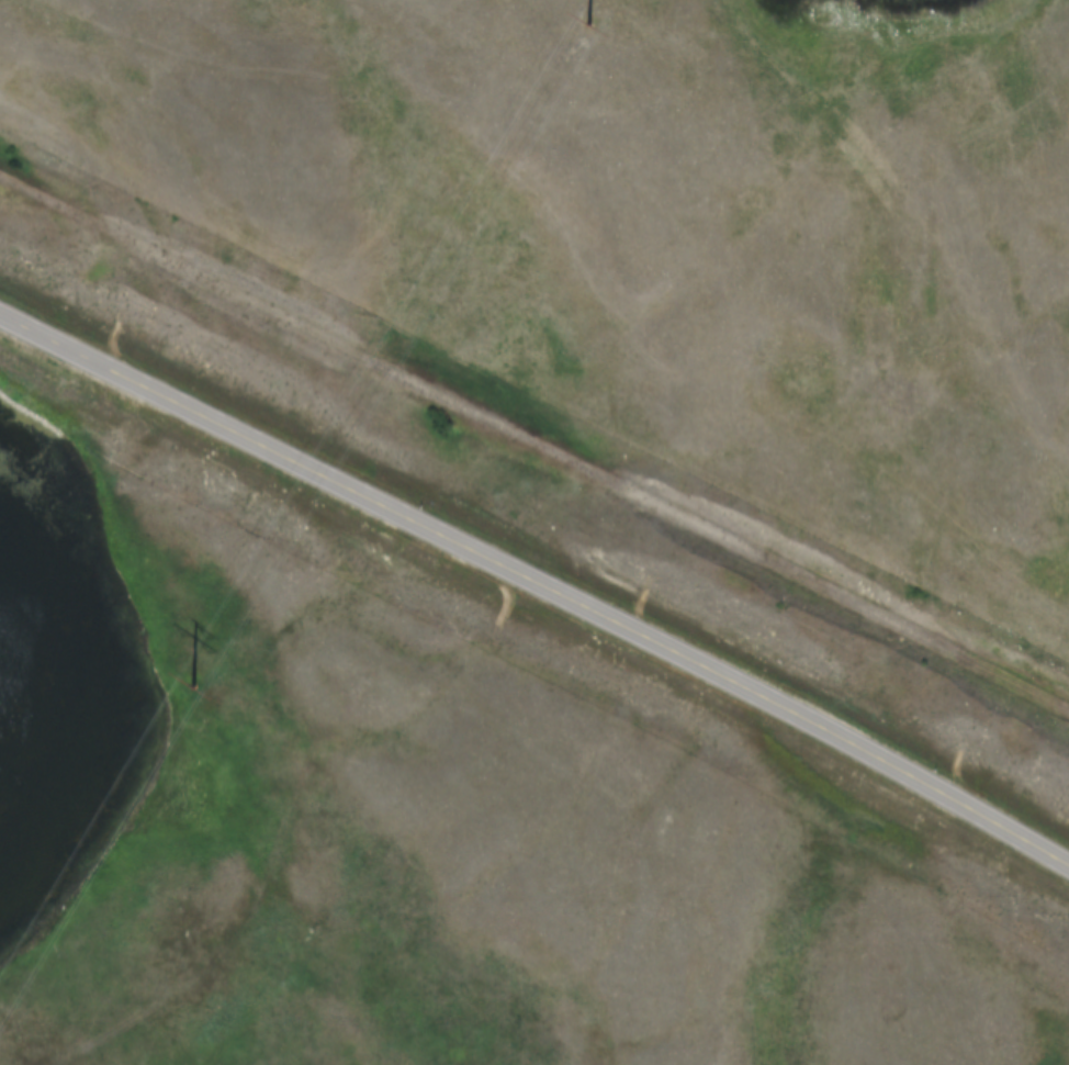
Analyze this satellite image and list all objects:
power tower: (581, 10)
road: (537, 579)
power tower: (189, 676)

